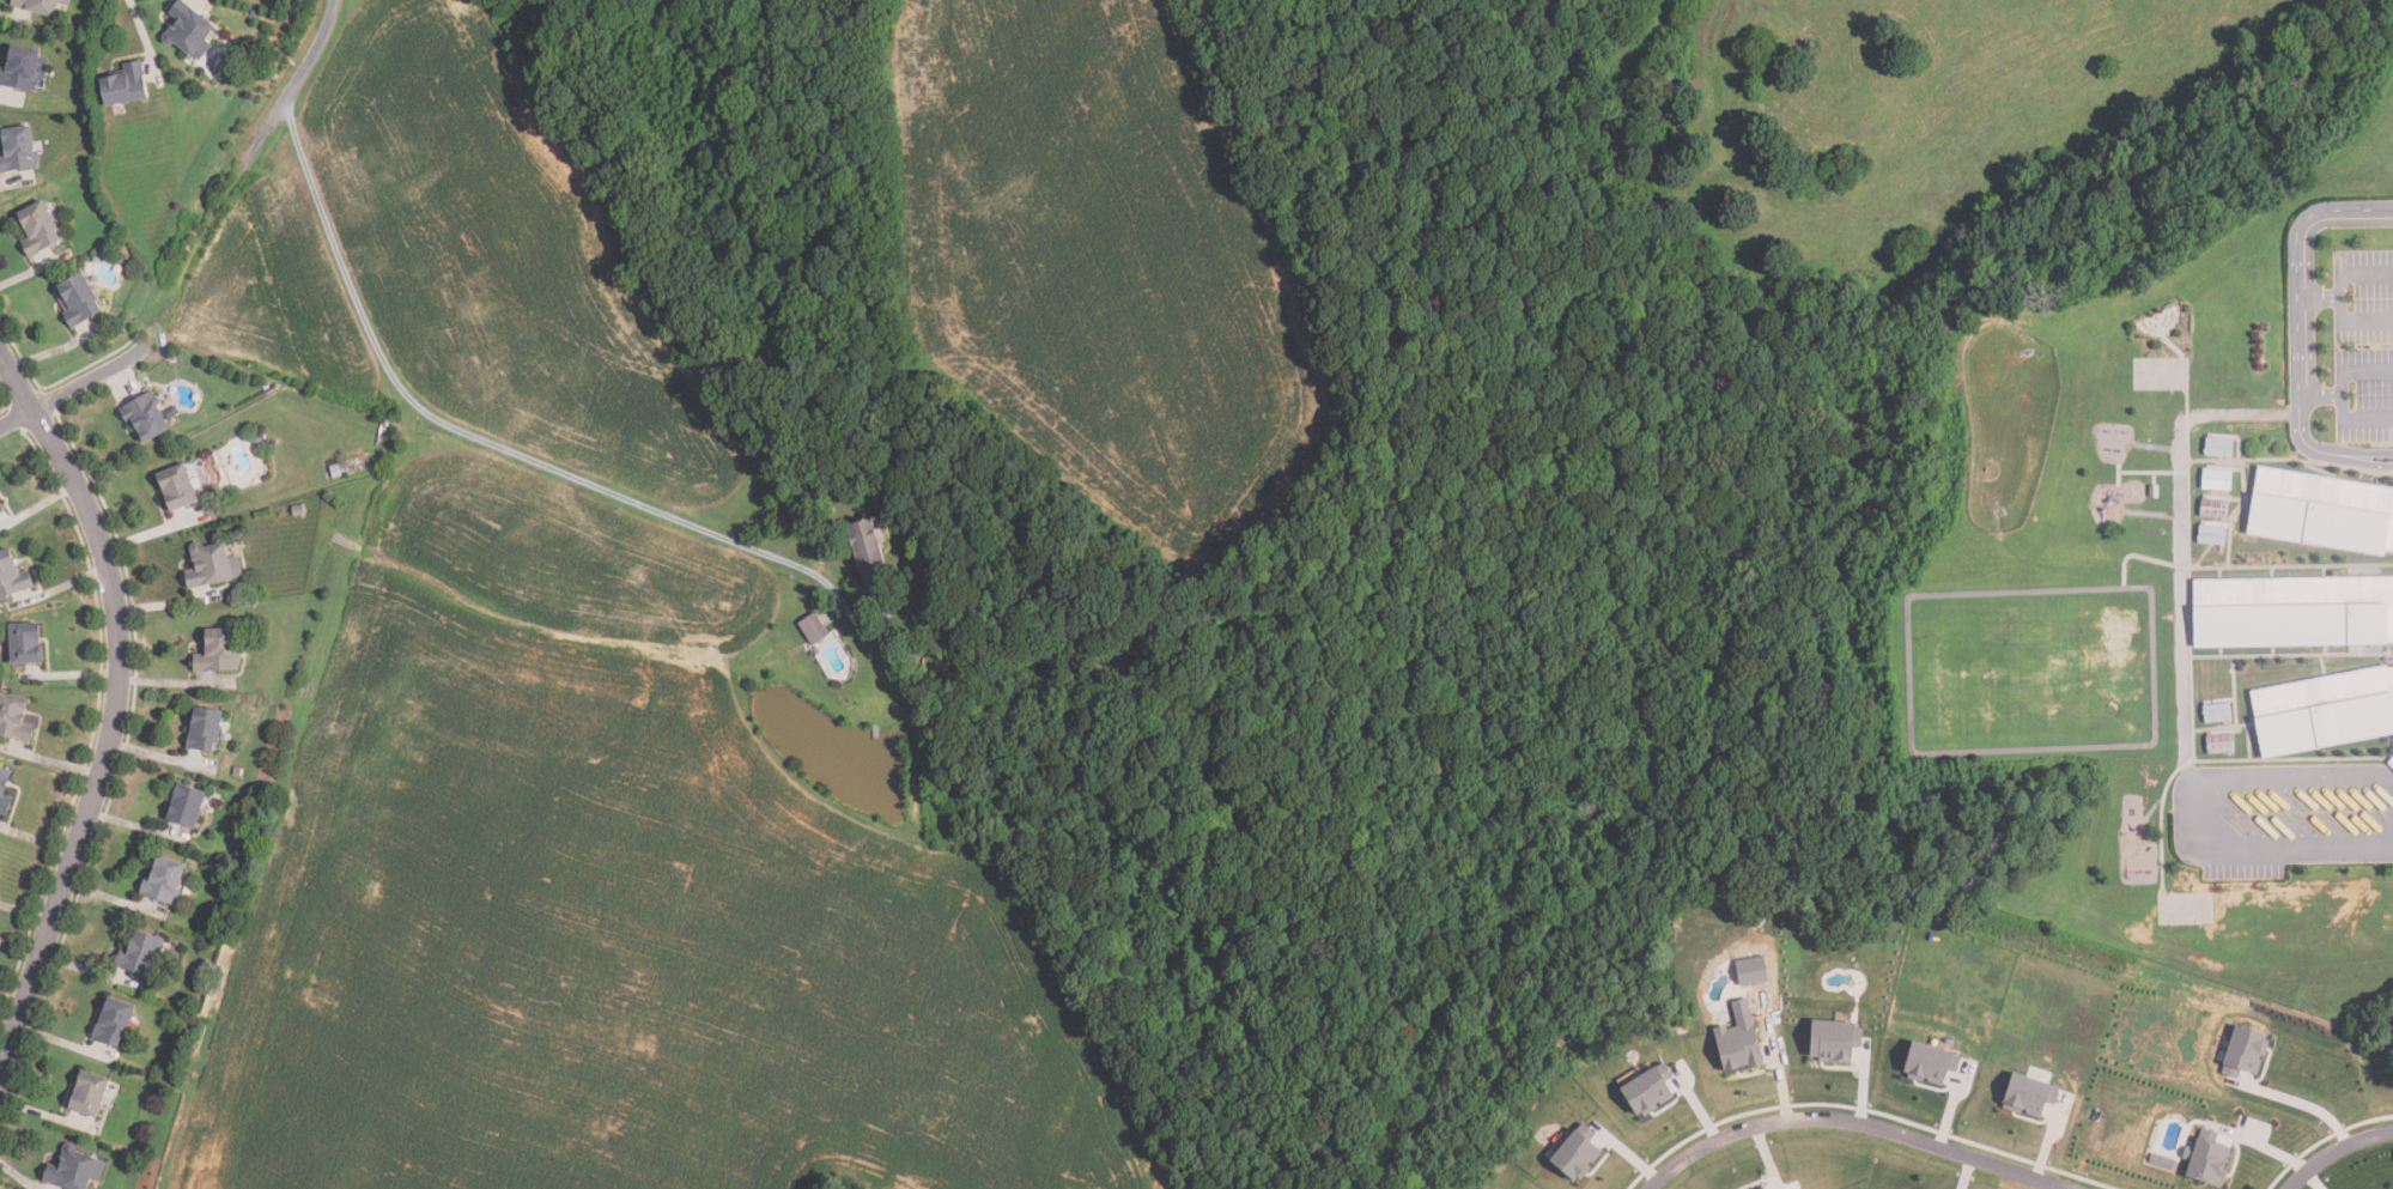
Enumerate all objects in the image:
building: (38, 5)
building: (189, 30)
building: (23, 68)
building: (126, 85)
road: (292, 86)
building: (18, 148)
building: (40, 228)
road: (2303, 268)
road: (2324, 292)
road: (2344, 293)
parking lot: (2363, 297)
building: (78, 299)
road: (74, 388)
road: (2325, 390)
road: (2346, 390)
parking lot: (2364, 395)
building: (146, 418)
road: (468, 427)
road: (2303, 437)
building: (2216, 449)
road: (2363, 453)
road: (2362, 465)
building: (2213, 480)
building: (177, 487)
building: (2151, 491)
building: (2211, 509)
building: (1, 510)
building: (2320, 512)
building: (2209, 535)
building: (869, 542)
building: (211, 564)
building: (11, 577)
building: (2291, 613)
building: (815, 629)
building: (25, 644)
building: (219, 650)
track: (2034, 667)
building: (2321, 711)
road: (116, 712)
building: (2215, 712)
building: (14, 718)
building: (205, 729)
building: (2218, 744)
building: (5, 790)
building: (186, 805)
road: (2199, 812)
building: (163, 879)
building: (141, 956)
building: (1756, 970)
building: (114, 1023)
building: (1743, 1038)
building: (1839, 1039)
building: (2246, 1050)
building: (1935, 1061)
building: (1653, 1088)
building: (2033, 1093)
building: (87, 1096)
road: (2297, 1102)
road: (1854, 1122)
road: (2339, 1148)
building: (1580, 1153)
building: (2211, 1158)
building: (74, 1170)
road: (2291, 1184)
building: (1765, 1187)

